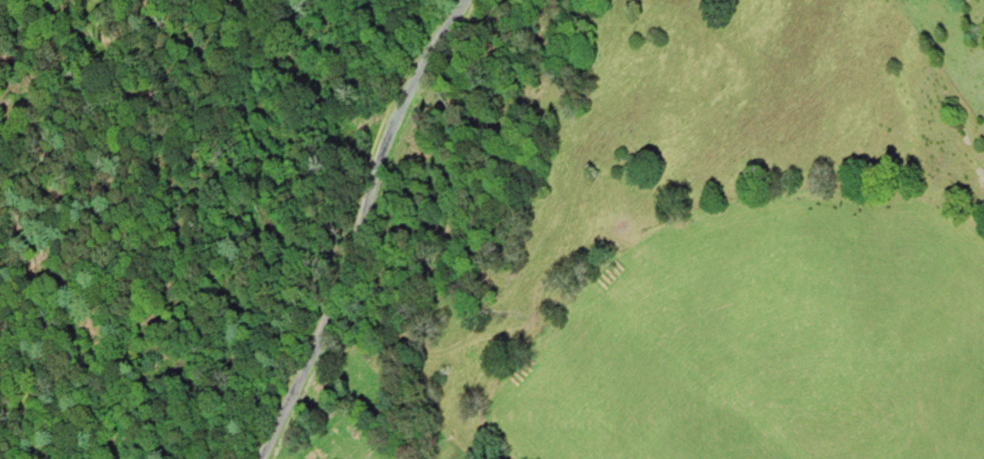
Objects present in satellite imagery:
road: (360, 230)

